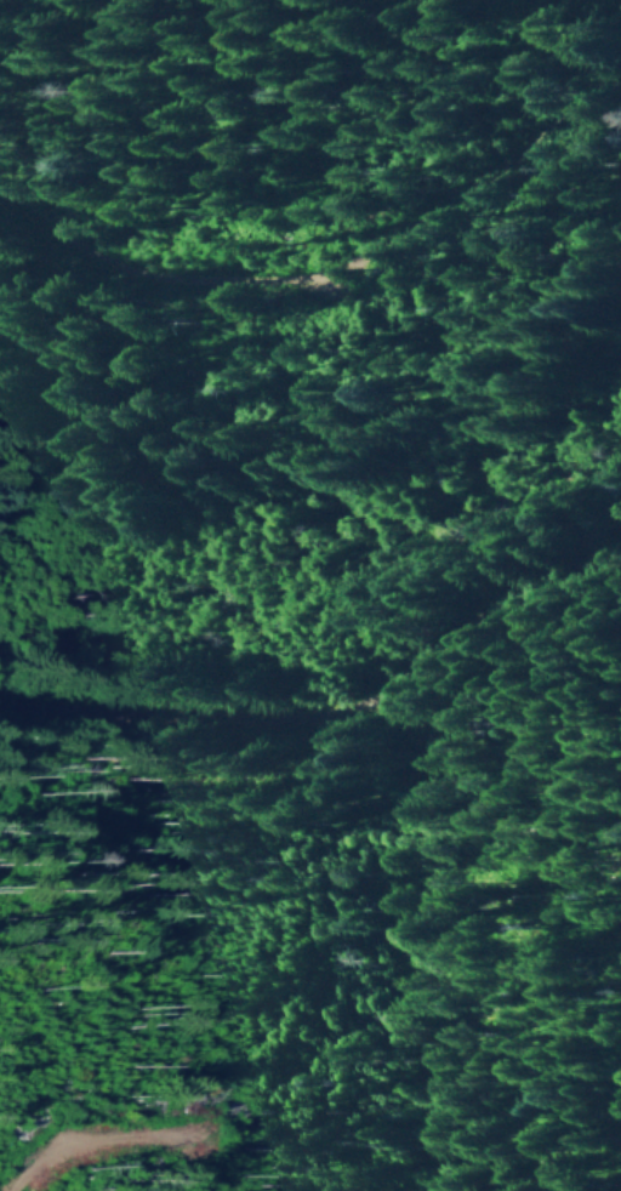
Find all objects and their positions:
road: (512, 0)
road: (352, 267)
river: (349, 524)
road: (330, 707)

